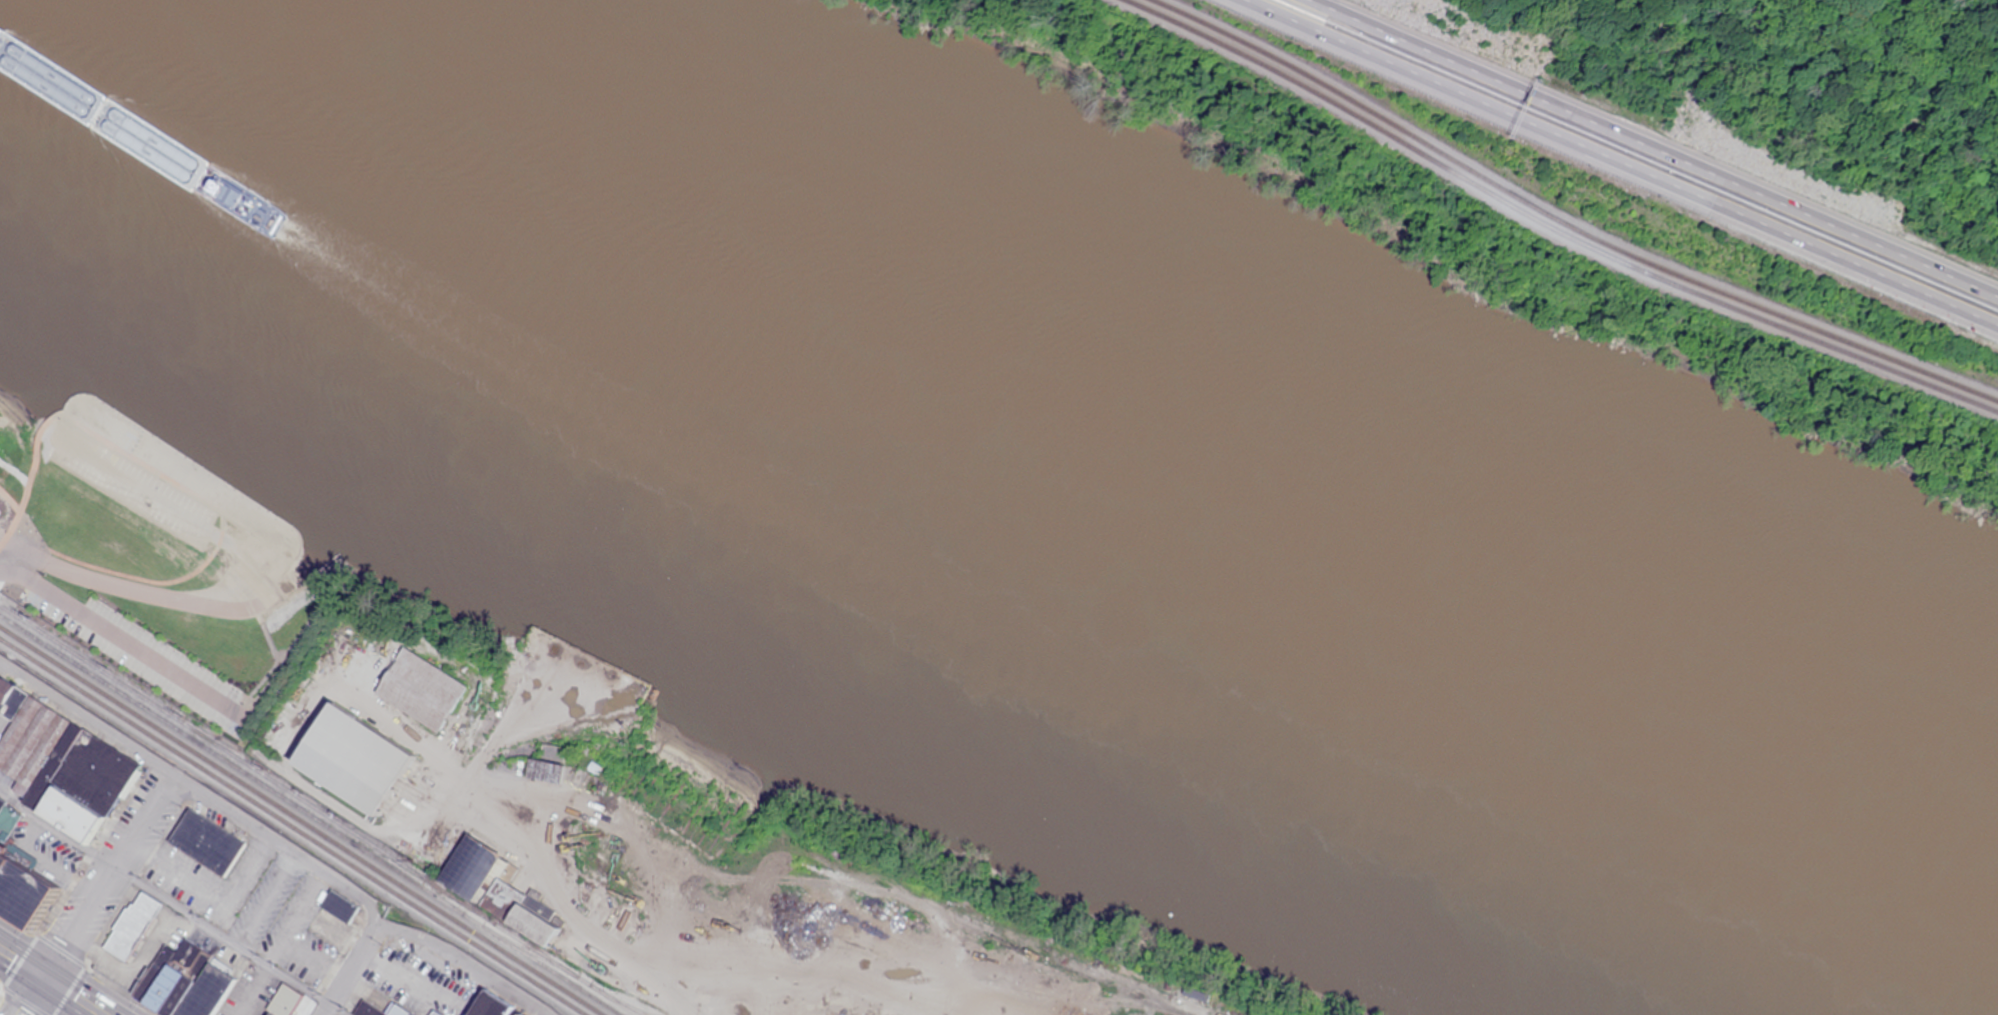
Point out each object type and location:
road: (1660, 146)
road: (1617, 166)
railway: (1574, 218)
railway: (1555, 223)
road: (71, 420)
road: (97, 420)
road: (64, 431)
road: (109, 442)
road: (112, 445)
road: (102, 454)
parking lot: (134, 481)
river: (1022, 483)
road: (10, 499)
flagpole: (29, 522)
road: (198, 524)
flagpole: (19, 528)
flagpole: (30, 529)
road: (20, 547)
park: (155, 561)
road: (134, 576)
road: (155, 594)
road: (256, 614)
road: (126, 640)
road: (277, 654)
parking lot: (150, 658)
road: (277, 661)
building: (419, 684)
road: (264, 687)
building: (347, 753)
railway: (289, 790)
railway: (312, 814)
railway: (302, 819)
railway: (294, 825)
road: (276, 841)
building: (206, 843)
building: (469, 866)
road: (112, 877)
building: (16, 889)
road: (172, 903)
building: (514, 910)
building: (132, 924)
railway: (998, 939)
railway: (531, 950)
road: (21, 961)
road: (349, 970)
traffic signals: (43, 975)
railway: (981, 980)
building: (185, 986)
road: (30, 995)
road: (73, 995)
railway: (608, 995)
building: (283, 1000)
railway: (621, 1001)
road: (970, 1004)

